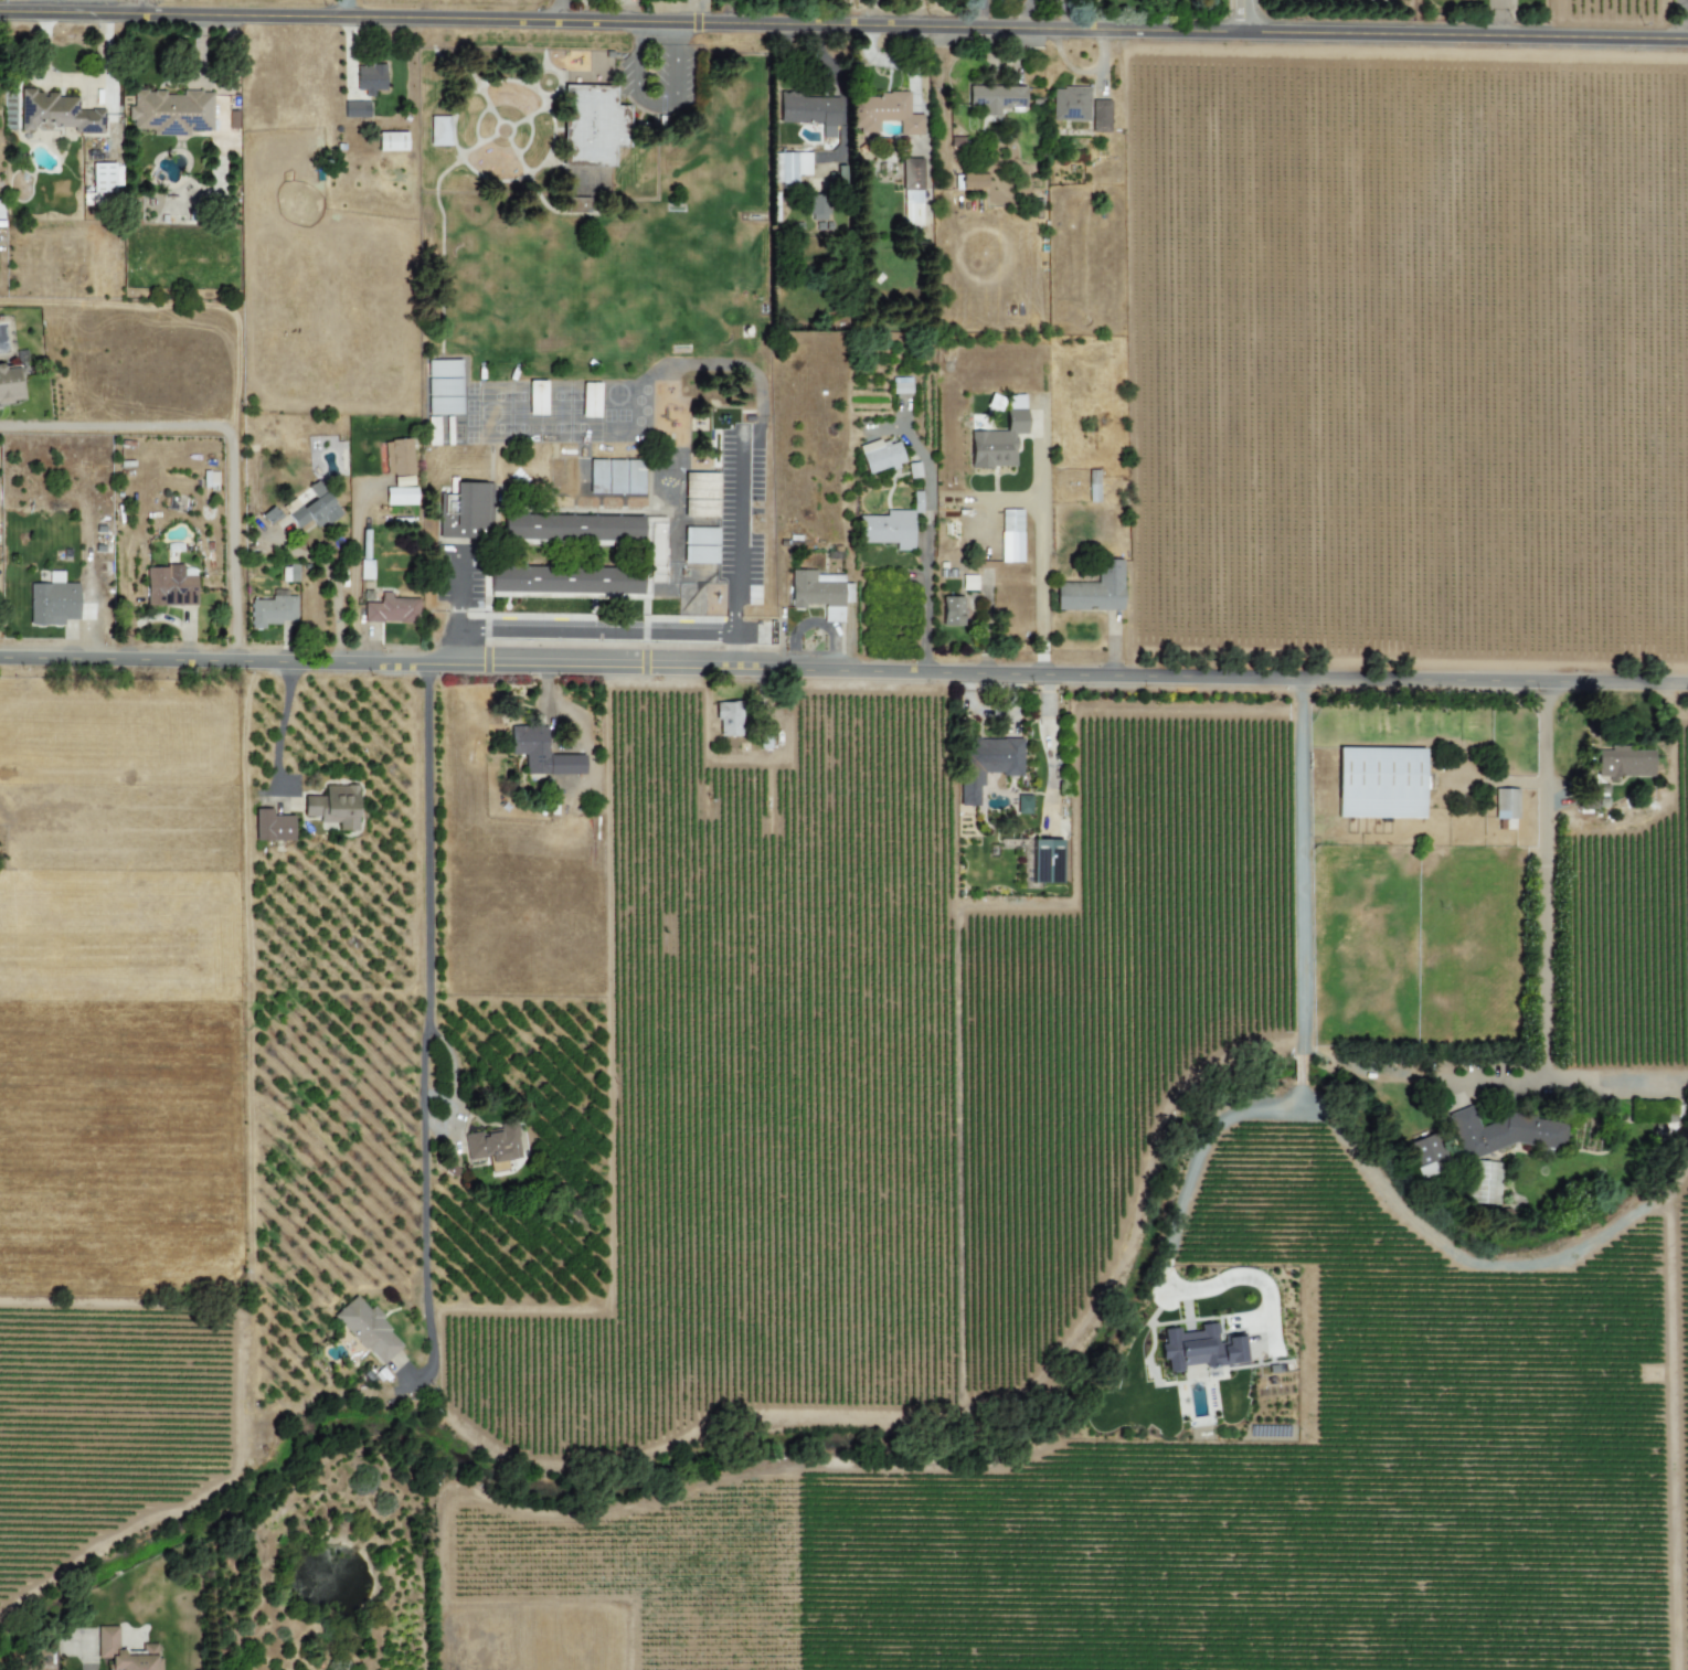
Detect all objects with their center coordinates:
road: (141, 7)
road: (340, 9)
road: (561, 11)
road: (1246, 17)
road: (843, 26)
building: (369, 78)
road: (74, 79)
building: (996, 97)
building: (1070, 104)
building: (355, 108)
building: (808, 110)
building: (171, 111)
building: (57, 113)
building: (884, 113)
building: (1100, 115)
building: (438, 130)
building: (391, 141)
building: (790, 166)
building: (103, 180)
building: (972, 181)
building: (911, 192)
building: (818, 206)
building: (150, 209)
building: (900, 384)
building: (443, 386)
building: (590, 400)
building: (534, 406)
building: (432, 429)
road: (225, 432)
building: (997, 442)
building: (880, 455)
building: (397, 457)
building: (913, 469)
building: (597, 474)
building: (615, 476)
building: (633, 477)
building: (402, 480)
building: (1093, 485)
building: (700, 494)
building: (400, 496)
building: (315, 509)
building: (464, 512)
building: (888, 529)
road: (925, 534)
building: (1010, 535)
building: (699, 544)
road: (740, 550)
building: (656, 553)
road: (1039, 553)
building: (288, 573)
building: (968, 582)
building: (169, 586)
road: (337, 587)
building: (1093, 589)
building: (819, 592)
building: (52, 603)
building: (391, 609)
building: (272, 610)
building: (952, 610)
road: (592, 631)
road: (454, 646)
road: (729, 651)
road: (843, 671)
building: (728, 719)
road: (280, 724)
building: (540, 752)
building: (985, 762)
building: (1613, 772)
building: (1379, 783)
building: (1023, 804)
building: (333, 806)
building: (1505, 806)
building: (272, 826)
building: (1045, 861)
road: (1299, 865)
road: (1541, 924)
road: (425, 1034)
road: (1299, 1072)
building: (1501, 1132)
building: (491, 1146)
building: (1427, 1155)
building: (1484, 1182)
road: (1171, 1230)
road: (1469, 1262)
building: (368, 1330)
building: (1199, 1348)
road: (1669, 1425)
building: (106, 1648)

